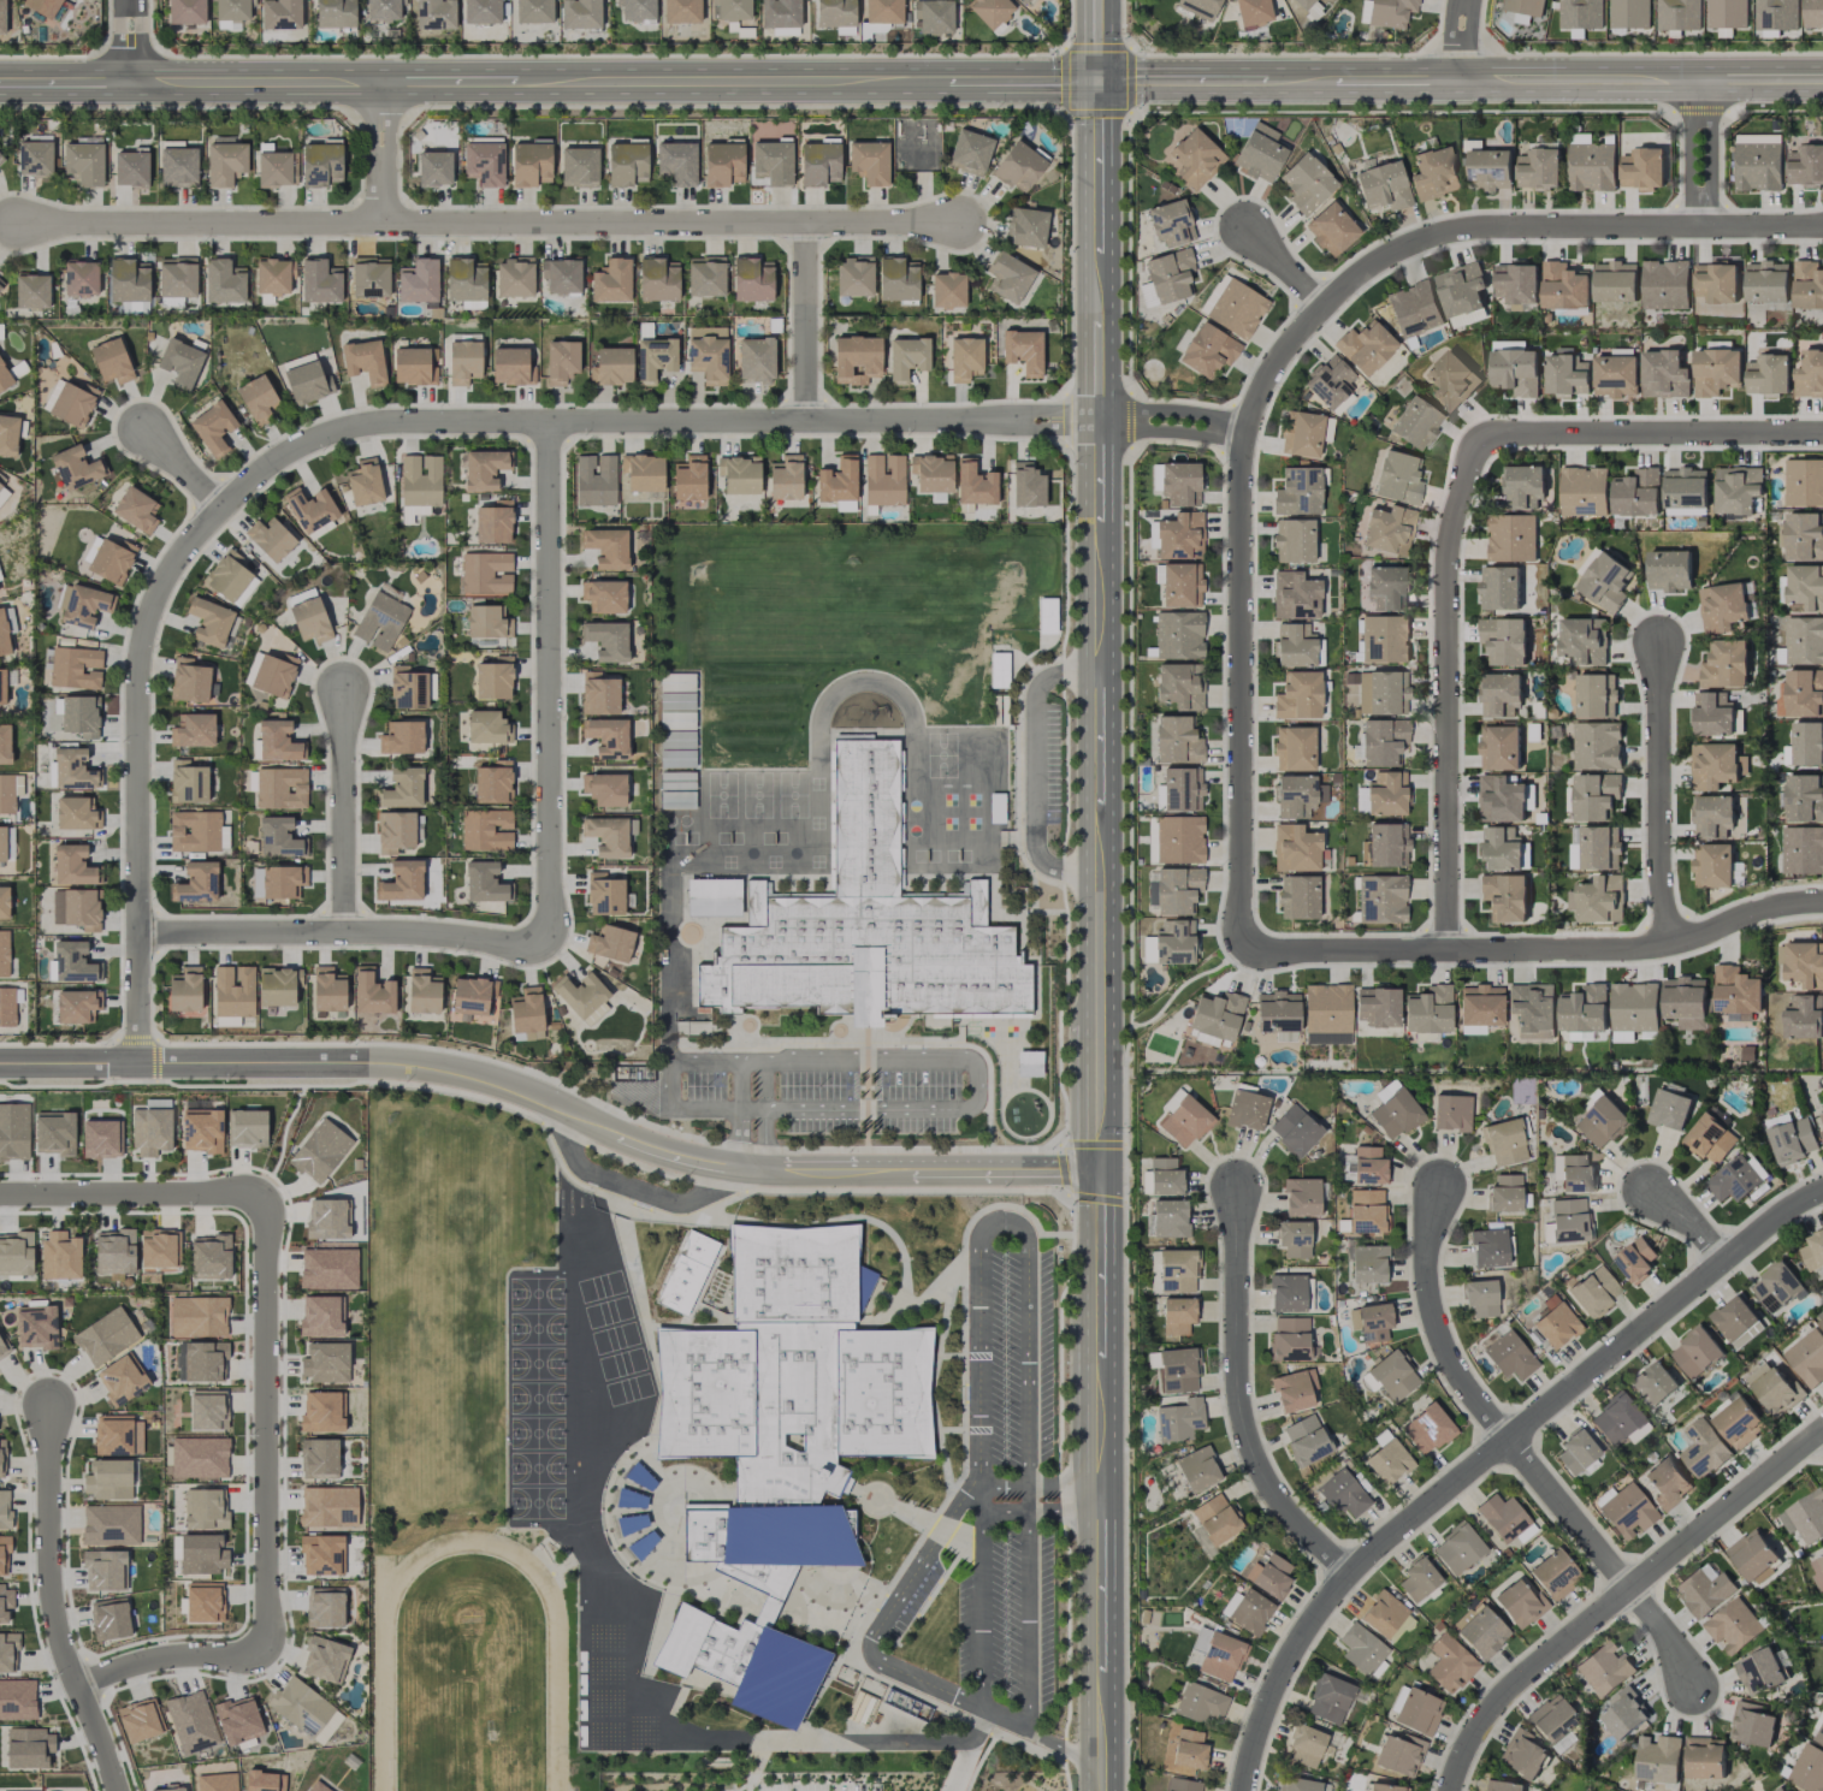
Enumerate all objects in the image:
building: (1026, 0)
building: (1303, 2)
building: (42, 6)
building: (1525, 6)
building: (1198, 7)
building: (732, 8)
building: (383, 10)
building: (637, 10)
building: (187, 11)
building: (481, 11)
building: (534, 11)
building: (681, 11)
building: (883, 11)
building: (990, 11)
building: (231, 12)
building: (1253, 12)
building: (1390, 12)
building: (280, 13)
building: (335, 13)
building: (436, 13)
building: (580, 13)
building: (780, 13)
building: (835, 13)
building: (1581, 13)
building: (1629, 13)
building: (1727, 13)
building: (1812, 13)
building: (1679, 14)
building: (1776, 14)
building: (2, 16)
road: (1463, 38)
road: (1097, 41)
road: (131, 42)
road: (1460, 78)
road: (549, 82)
traffic signals: (1099, 82)
building: (970, 152)
road: (379, 153)
building: (1260, 153)
road: (1689, 154)
road: (1713, 154)
building: (35, 158)
building: (1194, 158)
building: (1, 159)
building: (869, 161)
building: (84, 162)
building: (225, 162)
building: (484, 162)
building: (677, 162)
building: (321, 164)
building: (531, 164)
building: (627, 164)
building: (723, 164)
building: (818, 164)
building: (178, 166)
building: (1018, 166)
building: (1591, 166)
building: (1758, 166)
building: (1805, 166)
building: (579, 167)
building: (131, 168)
building: (277, 168)
building: (434, 168)
building: (1491, 168)
building: (1643, 168)
building: (1538, 170)
building: (1434, 173)
building: (1307, 183)
building: (1384, 185)
road: (491, 223)
building: (1171, 223)
building: (1026, 226)
road: (1487, 227)
building: (1331, 229)
road: (1099, 251)
road: (1286, 268)
building: (561, 274)
building: (705, 275)
building: (854, 275)
building: (1170, 275)
building: (177, 277)
building: (369, 277)
building: (514, 277)
building: (1008, 277)
building: (81, 278)
building: (129, 279)
building: (466, 279)
building: (658, 279)
building: (752, 279)
building: (898, 279)
building: (224, 280)
building: (320, 280)
building: (419, 280)
building: (611, 281)
building: (1766, 281)
building: (1615, 283)
building: (1716, 283)
building: (1, 284)
building: (1516, 284)
building: (1665, 285)
building: (1807, 285)
building: (947, 290)
building: (1461, 290)
building: (32, 291)
building: (1237, 308)
building: (1415, 309)
road: (806, 322)
building: (1365, 346)
building: (1023, 350)
building: (1208, 350)
building: (708, 354)
building: (906, 357)
building: (655, 358)
building: (856, 358)
building: (965, 358)
building: (756, 360)
building: (111, 361)
building: (363, 361)
building: (561, 361)
building: (463, 362)
building: (179, 363)
building: (410, 366)
building: (509, 366)
building: (611, 366)
building: (1515, 372)
building: (1716, 372)
building: (1565, 374)
building: (1664, 374)
building: (1768, 374)
building: (1616, 375)
building: (1810, 375)
building: (4, 378)
building: (1450, 381)
building: (307, 382)
building: (1330, 382)
building: (258, 399)
building: (73, 403)
building: (1415, 422)
road: (1172, 423)
building: (213, 427)
road: (356, 428)
building: (8, 434)
building: (1301, 434)
road: (1641, 435)
building: (75, 467)
road: (182, 469)
building: (483, 469)
building: (643, 472)
building: (931, 473)
building: (739, 474)
building: (689, 478)
building: (785, 478)
building: (1397, 478)
building: (883, 479)
building: (594, 480)
building: (837, 481)
building: (365, 482)
building: (1804, 482)
building: (973, 484)
building: (1179, 484)
building: (419, 485)
building: (1026, 485)
building: (1523, 487)
building: (1685, 488)
building: (1736, 490)
building: (1298, 492)
building: (1584, 492)
building: (2, 493)
building: (1636, 493)
building: (136, 509)
building: (310, 509)
building: (493, 522)
building: (1389, 529)
building: (1179, 535)
building: (1803, 536)
building: (1511, 538)
building: (270, 539)
building: (1292, 540)
building: (606, 547)
building: (112, 559)
building: (1588, 561)
building: (1669, 570)
building: (485, 574)
building: (227, 575)
building: (1605, 582)
building: (1182, 585)
building: (1385, 587)
building: (1805, 587)
building: (1499, 588)
building: (300, 595)
building: (604, 595)
building: (1295, 595)
building: (81, 605)
building: (1722, 607)
building: (1047, 615)
building: (381, 618)
building: (10, 619)
building: (209, 621)
building: (310, 621)
building: (486, 622)
building: (4, 635)
building: (1178, 635)
building: (1385, 639)
building: (606, 640)
building: (1584, 640)
building: (1504, 641)
building: (1804, 641)
building: (1295, 645)
building: (1724, 665)
building: (75, 668)
building: (999, 670)
building: (273, 675)
building: (493, 678)
building: (189, 681)
road: (548, 681)
building: (2, 686)
building: (1179, 687)
building: (408, 688)
road: (1239, 689)
building: (1383, 692)
building: (599, 693)
building: (1800, 693)
building: (1298, 695)
building: (1501, 695)
building: (1596, 696)
building: (676, 700)
road: (1444, 700)
building: (1713, 714)
building: (81, 716)
building: (487, 727)
building: (193, 730)
building: (606, 736)
building: (401, 737)
building: (1177, 740)
building: (277, 741)
building: (1383, 741)
building: (5, 743)
building: (1807, 743)
building: (1597, 746)
building: (676, 748)
building: (1294, 748)
building: (1499, 748)
building: (1715, 765)
building: (72, 769)
road: (1037, 771)
building: (188, 782)
building: (492, 782)
building: (280, 787)
building: (402, 788)
building: (604, 788)
building: (1182, 789)
building: (10, 791)
building: (1386, 793)
road: (1659, 794)
building: (1594, 796)
road: (1099, 797)
building: (676, 799)
building: (1804, 799)
building: (1361, 800)
building: (1501, 800)
road: (345, 809)
building: (76, 813)
building: (1712, 817)
building: (486, 830)
building: (197, 831)
building: (395, 831)
building: (609, 835)
building: (278, 837)
building: (1179, 838)
building: (2, 843)
building: (1385, 846)
building: (1295, 848)
building: (1501, 848)
building: (1600, 848)
building: (1575, 850)
building: (1803, 850)
building: (72, 865)
building: (1713, 866)
building: (277, 880)
building: (401, 882)
building: (484, 882)
building: (196, 883)
building: (1176, 890)
building: (604, 894)
building: (712, 896)
building: (1298, 896)
building: (1504, 897)
building: (1381, 899)
building: (1598, 900)
building: (4, 902)
building: (76, 908)
building: (865, 924)
road: (341, 930)
building: (610, 942)
building: (1174, 942)
road: (1535, 948)
building: (4, 953)
building: (71, 963)
building: (1803, 963)
building: (278, 985)
building: (184, 989)
building: (329, 989)
building: (233, 991)
building: (422, 991)
building: (372, 992)
building: (1736, 994)
building: (472, 995)
building: (582, 996)
building: (1685, 1002)
building: (76, 1004)
building: (1480, 1004)
building: (7, 1006)
building: (1378, 1006)
building: (1532, 1006)
building: (1634, 1007)
building: (1327, 1008)
building: (1428, 1009)
building: (1584, 1009)
building: (527, 1013)
building: (1278, 1014)
building: (1804, 1016)
building: (1215, 1018)
building: (1472, 1028)
building: (1622, 1037)
building: (1327, 1038)
road: (884, 1060)
building: (1029, 1063)
building: (1386, 1090)
road: (552, 1101)
road: (751, 1108)
building: (1247, 1109)
building: (1669, 1110)
building: (1451, 1113)
building: (1396, 1114)
building: (1822, 1116)
building: (1183, 1119)
building: (1603, 1123)
building: (247, 1128)
building: (202, 1129)
building: (1295, 1129)
building: (150, 1131)
building: (13, 1132)
building: (54, 1132)
building: (1711, 1135)
building: (1821, 1135)
building: (100, 1139)
building: (1793, 1141)
building: (1504, 1143)
building: (320, 1150)
building: (1368, 1166)
traffic signals: (1099, 1173)
building: (1576, 1174)
building: (1165, 1176)
building: (1735, 1179)
road: (627, 1184)
building: (1504, 1193)
road: (126, 1196)
building: (1301, 1197)
building: (1366, 1211)
building: (326, 1218)
road: (1017, 1218)
building: (1170, 1218)
building: (1568, 1220)
road: (1691, 1223)
building: (1294, 1239)
building: (1488, 1247)
building: (114, 1251)
building: (1813, 1251)
building: (16, 1253)
building: (60, 1256)
building: (209, 1256)
building: (1635, 1259)
building: (1368, 1263)
building: (329, 1268)
building: (1177, 1270)
building: (686, 1271)
building: (1776, 1287)
building: (1594, 1292)
building: (1290, 1293)
building: (1480, 1297)
building: (1177, 1315)
building: (197, 1316)
building: (320, 1316)
building: (1819, 1318)
building: (1371, 1321)
building: (1736, 1322)
road: (1436, 1323)
building: (1556, 1323)
building: (36, 1327)
building: (105, 1336)
building: (1290, 1338)
building: (2, 1351)
building: (1695, 1352)
building: (1510, 1356)
building: (1807, 1358)
building: (201, 1360)
building: (326, 1362)
building: (1177, 1370)
building: (1393, 1375)
building: (120, 1380)
building: (1655, 1384)
building: (1294, 1389)
building: (1774, 1389)
road: (1238, 1396)
building: (207, 1410)
building: (321, 1412)
building: (1616, 1418)
building: (1179, 1419)
road: (266, 1421)
building: (1739, 1423)
building: (1427, 1429)
building: (117, 1435)
building: (1306, 1440)
building: (782, 1445)
building: (1703, 1449)
building: (1576, 1451)
building: (199, 1457)
road: (1488, 1457)
building: (2, 1458)
building: (319, 1458)
building: (1389, 1461)
road: (1099, 1465)
building: (1197, 1469)
building: (108, 1479)
building: (1667, 1483)
building: (1343, 1493)
road: (1064, 1498)
road: (995, 1499)
building: (329, 1506)
road: (957, 1508)
building: (5, 1510)
building: (205, 1510)
building: (1627, 1511)
building: (1503, 1517)
building: (1805, 1517)
building: (1215, 1518)
building: (111, 1524)
building: (1457, 1548)
building: (202, 1554)
building: (320, 1554)
building: (1752, 1554)
building: (4, 1555)
road: (1606, 1559)
building: (103, 1570)
building: (1818, 1571)
building: (1269, 1574)
building: (1555, 1574)
building: (1417, 1578)
building: (1704, 1590)
road: (1618, 1597)
building: (5, 1602)
building: (203, 1602)
road: (982, 1603)
building: (1520, 1603)
road: (45, 1606)
building: (325, 1607)
building: (1247, 1611)
road: (1029, 1614)
building: (1384, 1614)
building: (110, 1619)
building: (1733, 1626)
building: (1482, 1632)
building: (1202, 1639)
building: (1361, 1648)
building: (7, 1650)
road: (870, 1650)
road: (162, 1655)
building: (1221, 1656)
building: (324, 1659)
building: (1450, 1662)
building: (1604, 1670)
building: (1759, 1672)
building: (17, 1698)
building: (1328, 1698)
building: (1201, 1703)
building: (300, 1706)
building: (1419, 1712)
building: (1624, 1714)
road: (1005, 1718)
building: (238, 1719)
building: (1553, 1719)
building: (138, 1720)
building: (191, 1722)
building: (1752, 1725)
road: (912, 1736)
building: (1819, 1736)
road: (1065, 1744)
building: (1304, 1745)
building: (29, 1748)
road: (966, 1750)
building: (1399, 1754)
building: (1522, 1755)
building: (1705, 1757)
building: (1658, 1760)
building: (1807, 1769)
road: (1100, 1775)
building: (264, 1780)
building: (217, 1781)
building: (1298, 1784)
building: (1183, 1785)
building: (318, 1786)
building: (1501, 1786)
building: (1386, 1787)
building: (168, 1789)
building: (1781, 1789)

